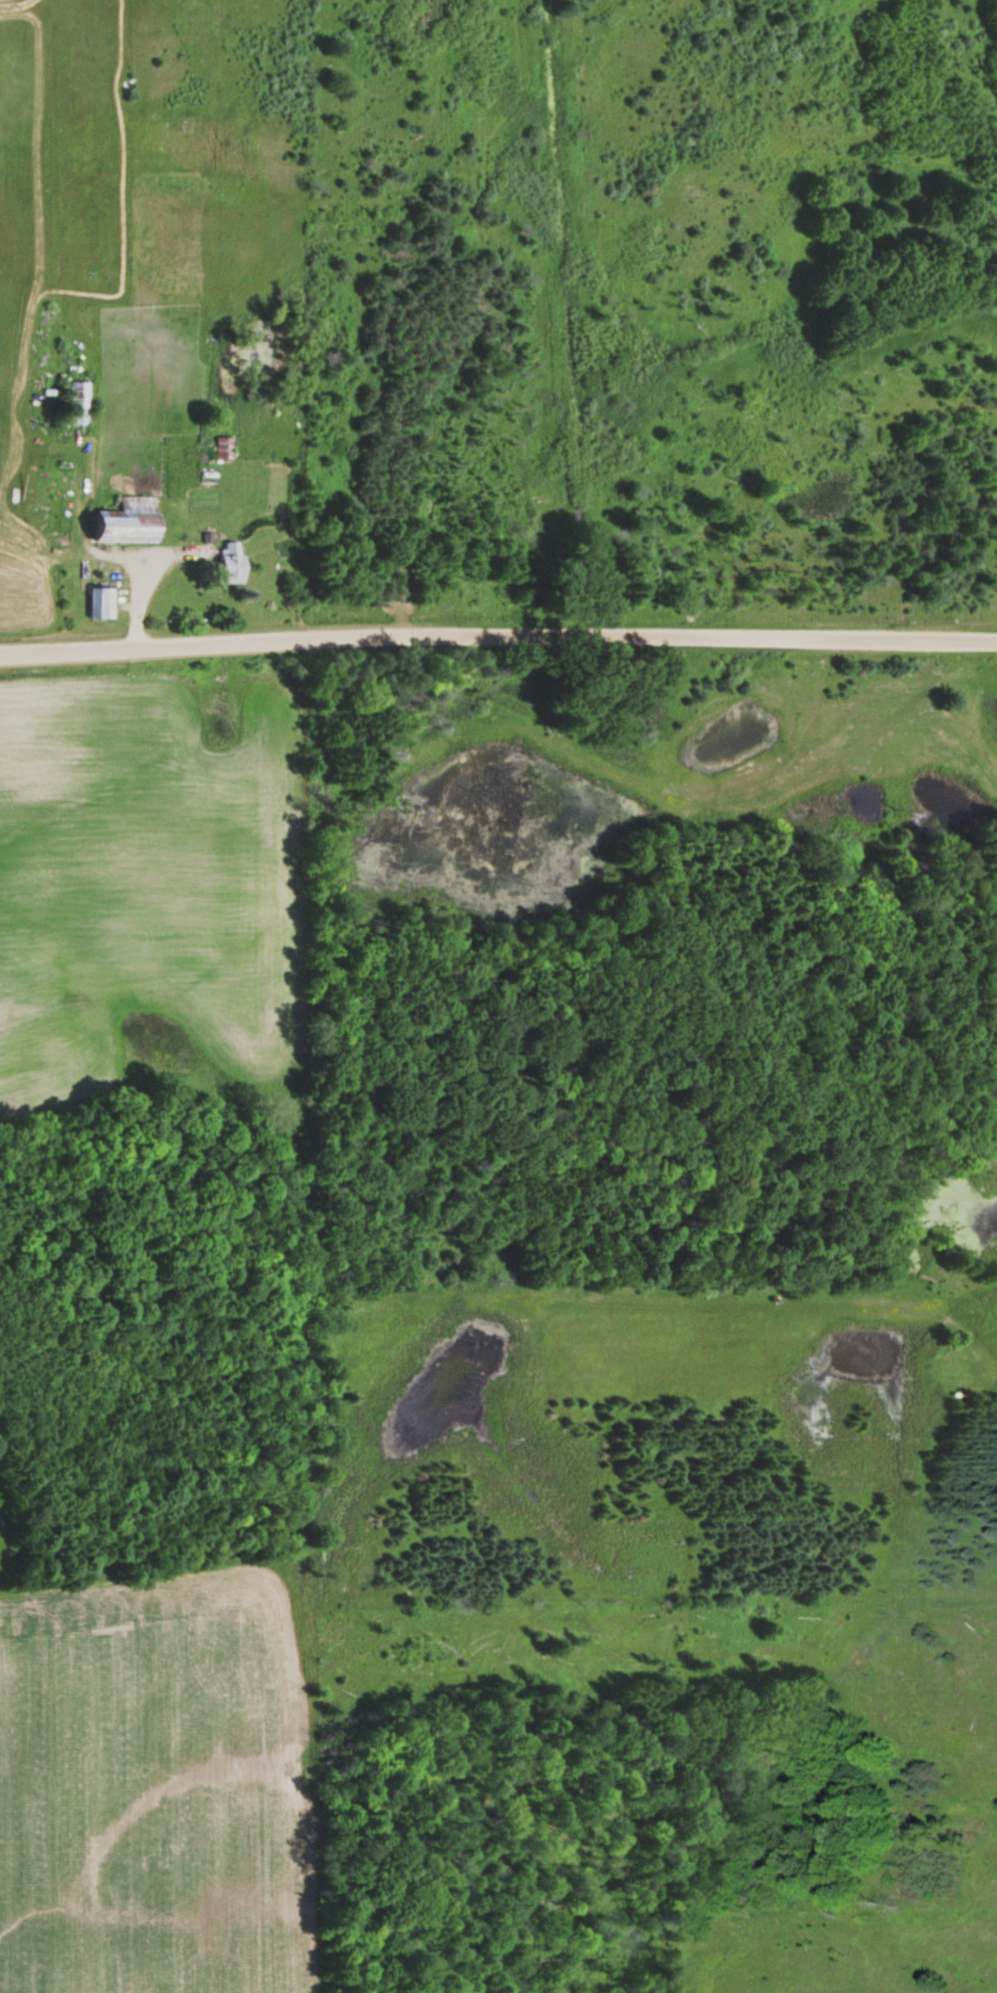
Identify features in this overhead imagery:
building: (74, 403)
building: (222, 564)
building: (94, 604)
road: (498, 636)

